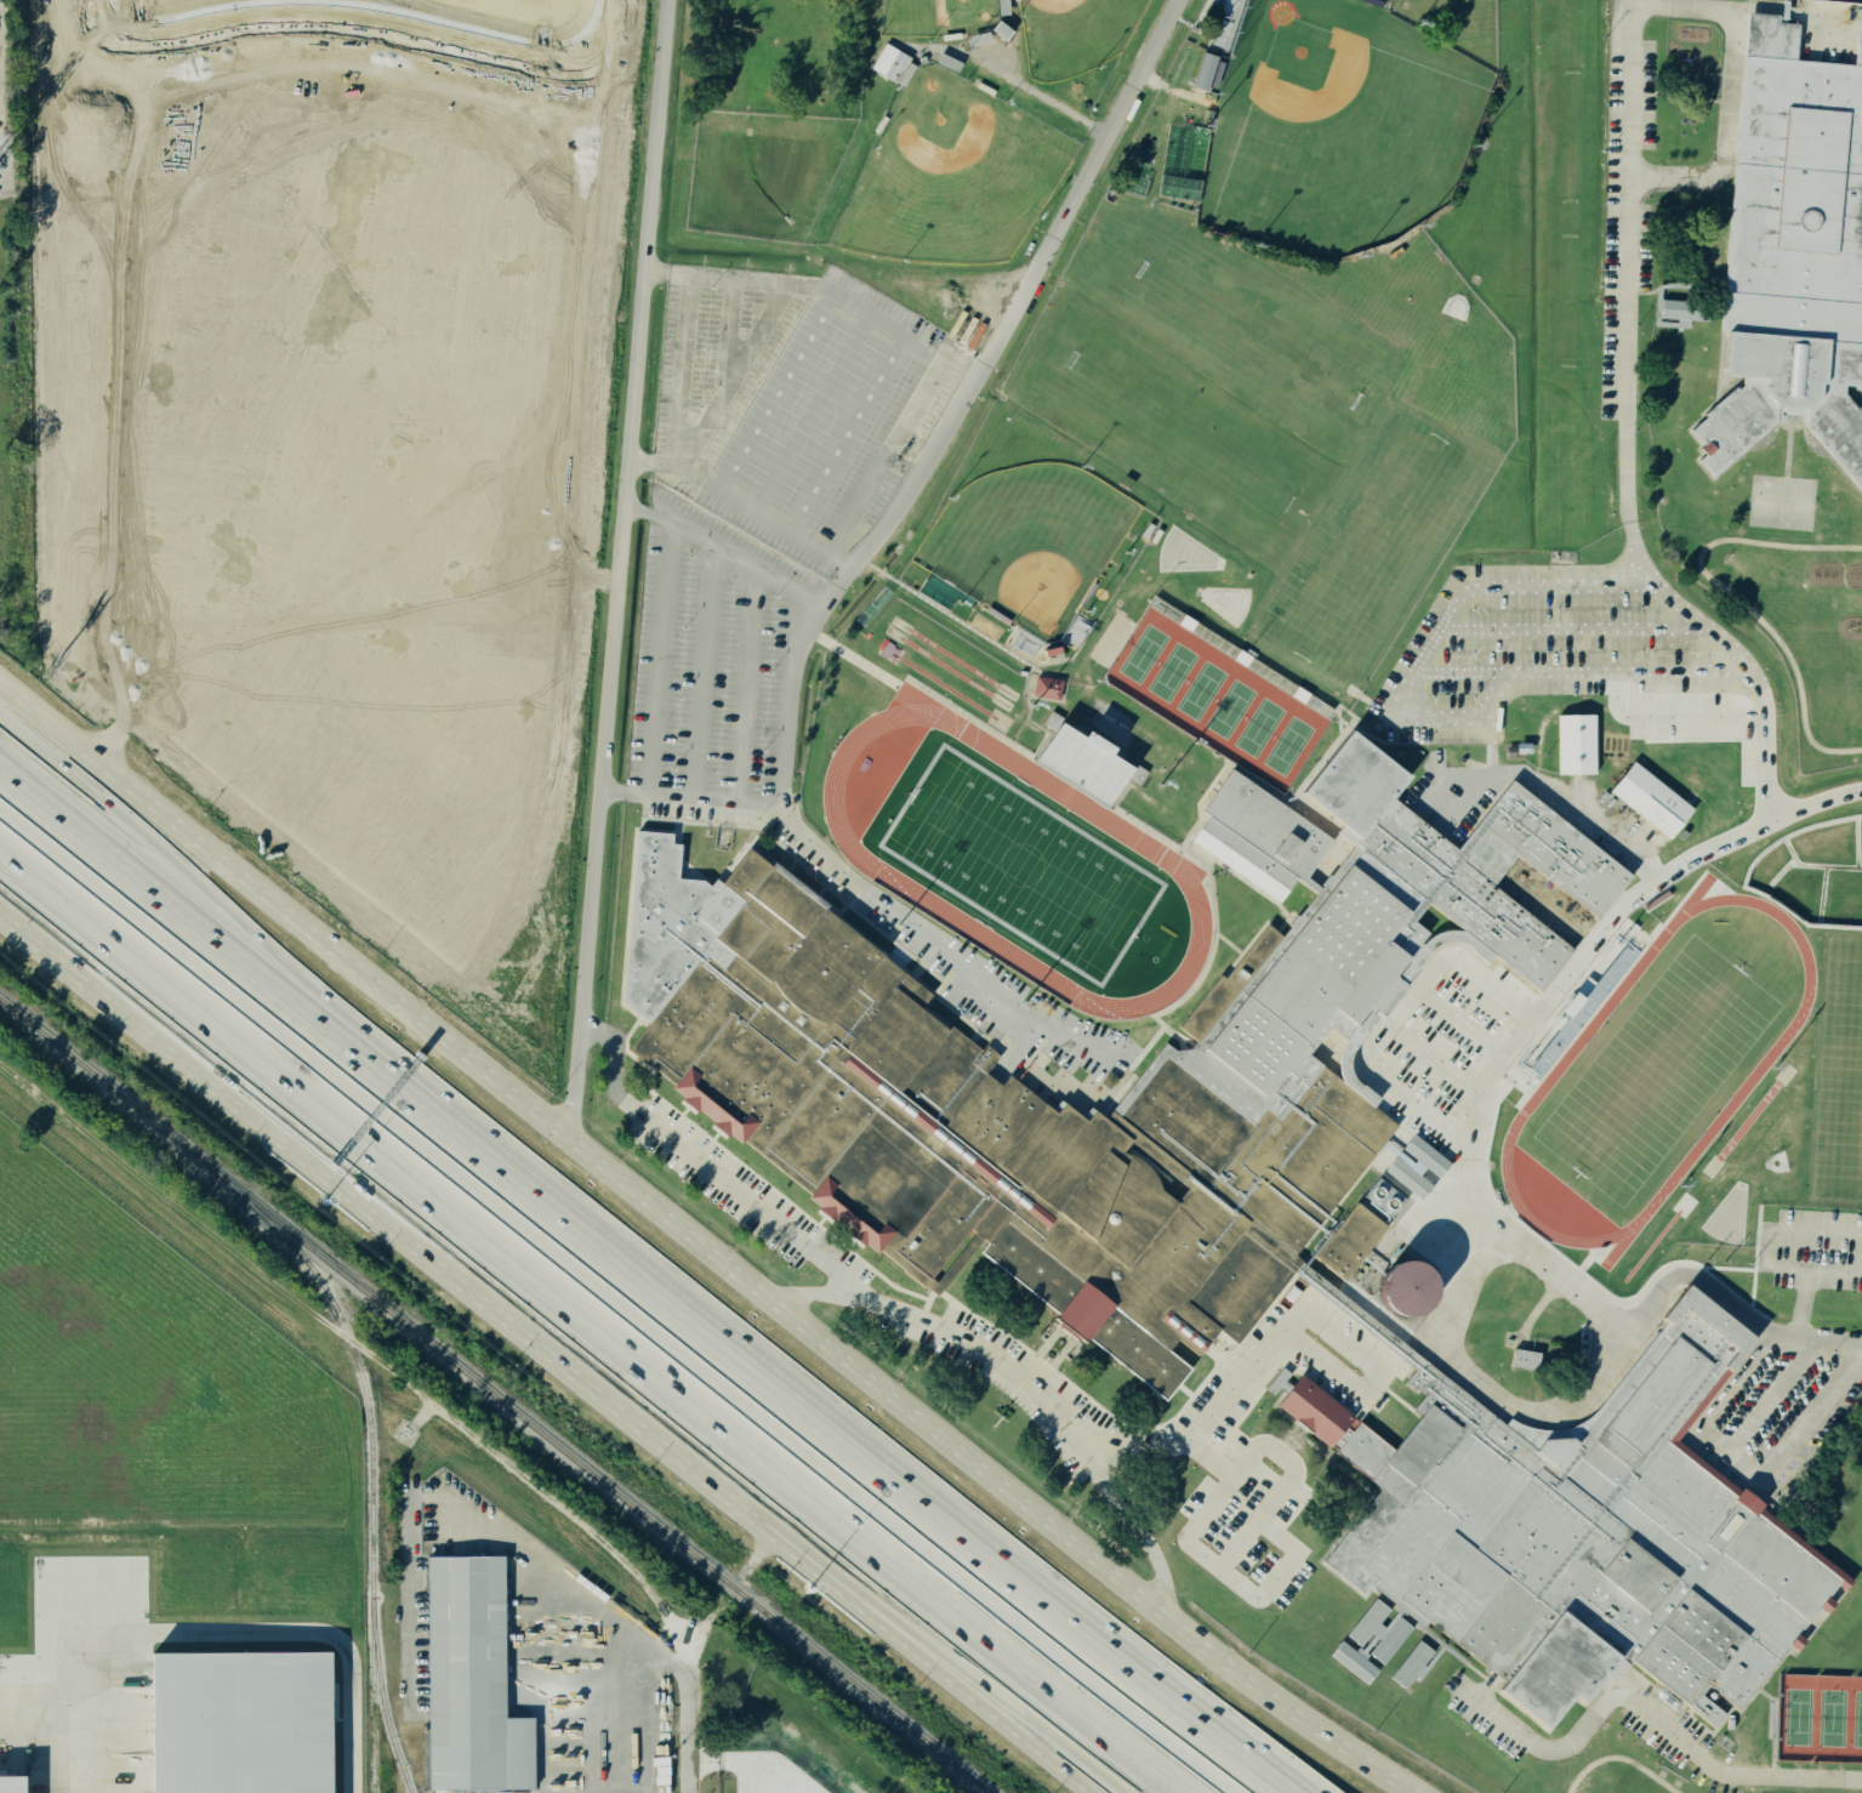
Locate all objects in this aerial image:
road: (2, 1)
road: (1746, 7)
park: (938, 16)
park: (1075, 34)
road: (1014, 67)
building: (893, 68)
building: (1203, 74)
road: (1024, 89)
stadium: (1317, 118)
park: (1337, 126)
park: (1571, 137)
road: (1726, 137)
park: (951, 175)
parking lot: (1624, 199)
building: (1793, 251)
park: (1570, 297)
building: (1682, 314)
road: (730, 321)
park: (1247, 329)
road: (684, 360)
road: (731, 375)
road: (771, 389)
parking lot: (796, 402)
road: (810, 412)
road: (909, 415)
road: (847, 434)
park: (1180, 434)
road: (1627, 436)
park: (1783, 502)
park: (1029, 542)
road: (621, 545)
park: (1371, 546)
road: (724, 550)
stadium: (1032, 556)
road: (838, 559)
road: (839, 580)
road: (1733, 598)
road: (1568, 628)
parking lot: (1543, 648)
parking lot: (713, 656)
road: (662, 658)
road: (704, 672)
road: (1457, 673)
road: (744, 684)
building: (1046, 690)
park: (1217, 700)
road: (1431, 718)
building: (1577, 744)
building: (1086, 764)
building: (1134, 775)
road: (1553, 776)
parking lot: (1452, 795)
road: (690, 798)
road: (1585, 799)
building: (1652, 801)
road: (1562, 807)
stadium: (1018, 810)
track: (1150, 848)
road: (169, 858)
park: (1019, 861)
road: (1494, 883)
building: (1658, 901)
road: (158, 903)
parking lot: (855, 903)
road: (1481, 943)
road: (1607, 950)
road: (1403, 1006)
road: (1326, 1032)
park: (1838, 1034)
road: (1476, 1036)
road: (1570, 1040)
road: (1025, 1045)
parking lot: (1459, 1051)
parking lot: (1091, 1054)
building: (821, 1065)
road: (1448, 1074)
road: (1115, 1075)
park: (1659, 1078)
road: (676, 1143)
building: (1419, 1168)
parking lot: (736, 1189)
road: (1437, 1202)
road: (386, 1224)
road: (1775, 1229)
road: (701, 1242)
parking lot: (1812, 1248)
building: (955, 1267)
road: (1835, 1268)
building: (1408, 1288)
road: (1804, 1300)
road: (1537, 1310)
road: (597, 1319)
road: (1283, 1330)
road: (973, 1344)
road: (1071, 1348)
building: (1525, 1359)
road: (1596, 1381)
railway: (491, 1398)
road: (1721, 1399)
road: (1043, 1406)
road: (796, 1412)
road: (443, 1418)
railway: (442, 1435)
building: (1547, 1439)
railway: (368, 1452)
road: (1239, 1474)
road: (1744, 1478)
parking lot: (1251, 1516)
building: (1583, 1536)
road: (758, 1556)
road: (1268, 1570)
road: (820, 1576)
road: (234, 1632)
building: (1379, 1632)
building: (1353, 1664)
building: (1412, 1667)
road: (642, 1672)
building: (467, 1673)
road: (688, 1692)
road: (978, 1703)
road: (992, 1703)
railway: (383, 1704)
road: (1644, 1711)
park: (1820, 1719)
parking lot: (1658, 1721)
building: (234, 1724)
road: (59, 1747)
park: (797, 1747)
road: (602, 1752)
road: (730, 1763)
track: (1612, 1774)
road: (798, 1782)
building: (10, 1786)

